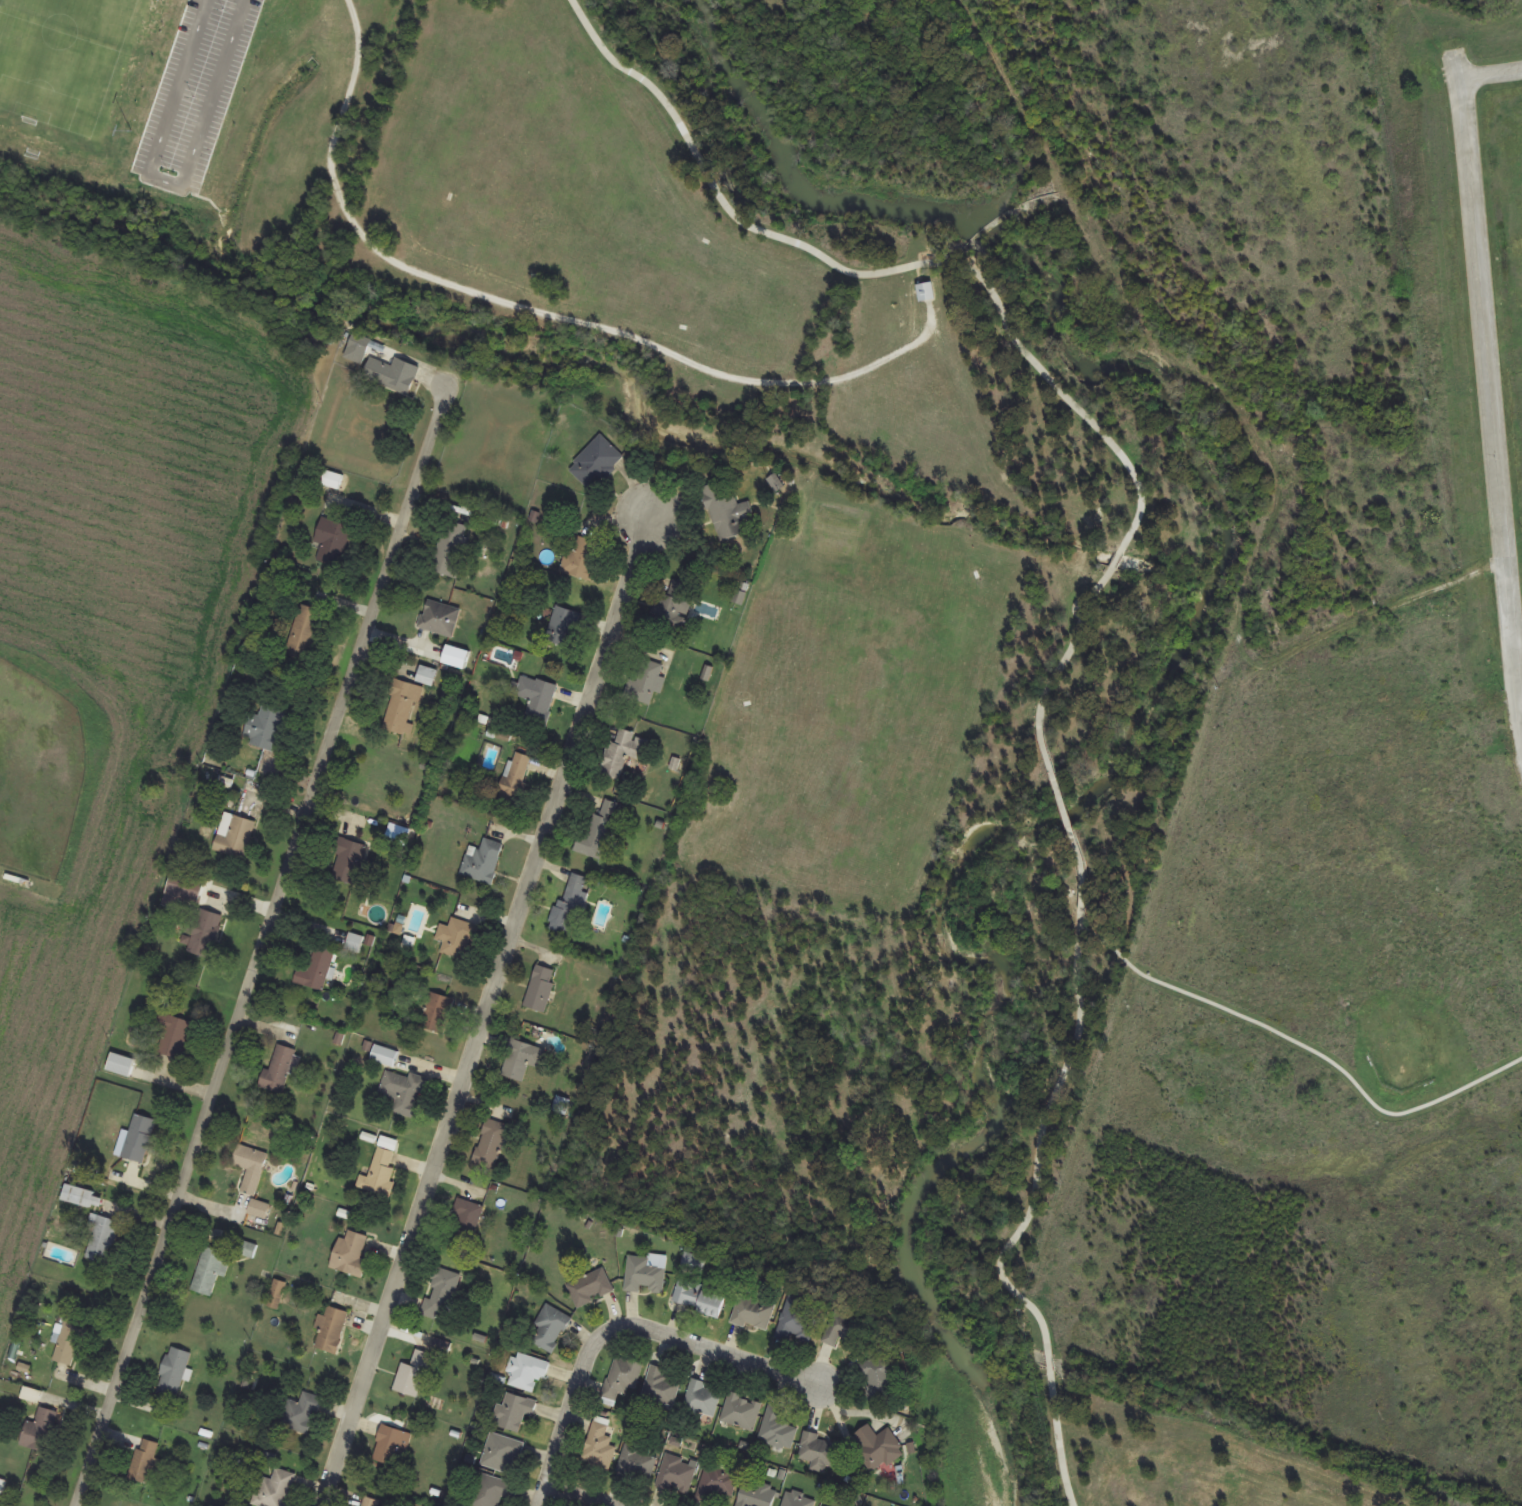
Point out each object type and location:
road: (1490, 75)
dam: (1011, 218)
road: (884, 273)
building: (926, 292)
road: (515, 305)
building: (358, 348)
building: (389, 374)
road: (1489, 389)
building: (596, 463)
building: (333, 480)
building: (727, 513)
building: (332, 542)
building: (450, 549)
building: (581, 559)
road: (1117, 560)
building: (673, 607)
building: (439, 619)
building: (564, 627)
building: (304, 633)
building: (427, 676)
building: (647, 684)
road: (1052, 684)
road: (1521, 697)
building: (536, 699)
building: (401, 708)
building: (266, 728)
building: (623, 753)
building: (515, 778)
road: (1067, 818)
building: (597, 833)
building: (235, 836)
building: (349, 860)
building: (483, 862)
building: (569, 907)
building: (205, 933)
building: (458, 938)
building: (354, 943)
road: (256, 947)
building: (318, 968)
building: (541, 988)
road: (484, 1008)
building: (439, 1013)
building: (173, 1036)
road: (1304, 1046)
building: (385, 1056)
building: (522, 1059)
building: (121, 1065)
building: (282, 1069)
building: (405, 1093)
road: (1052, 1102)
building: (564, 1106)
building: (140, 1138)
building: (491, 1143)
building: (251, 1168)
building: (380, 1175)
building: (79, 1196)
building: (260, 1209)
building: (466, 1219)
building: (103, 1239)
building: (247, 1249)
building: (350, 1255)
building: (211, 1271)
building: (645, 1276)
building: (591, 1287)
building: (441, 1294)
building: (277, 1295)
building: (699, 1298)
building: (752, 1314)
building: (798, 1321)
building: (550, 1329)
road: (624, 1329)
building: (331, 1330)
building: (843, 1331)
building: (70, 1342)
road: (1050, 1362)
building: (173, 1373)
building: (528, 1373)
building: (413, 1375)
building: (879, 1377)
building: (622, 1379)
building: (662, 1386)
building: (702, 1399)
building: (515, 1412)
building: (741, 1412)
building: (301, 1414)
building: (777, 1430)
building: (42, 1431)
road: (1059, 1437)
building: (391, 1446)
building: (599, 1448)
building: (878, 1448)
building: (818, 1452)
building: (504, 1454)
building: (144, 1462)
building: (637, 1463)
building: (677, 1475)
building: (716, 1485)
building: (275, 1489)
building: (490, 1491)
building: (757, 1494)
road: (570, 1496)
building: (798, 1500)
building: (370, 1502)

